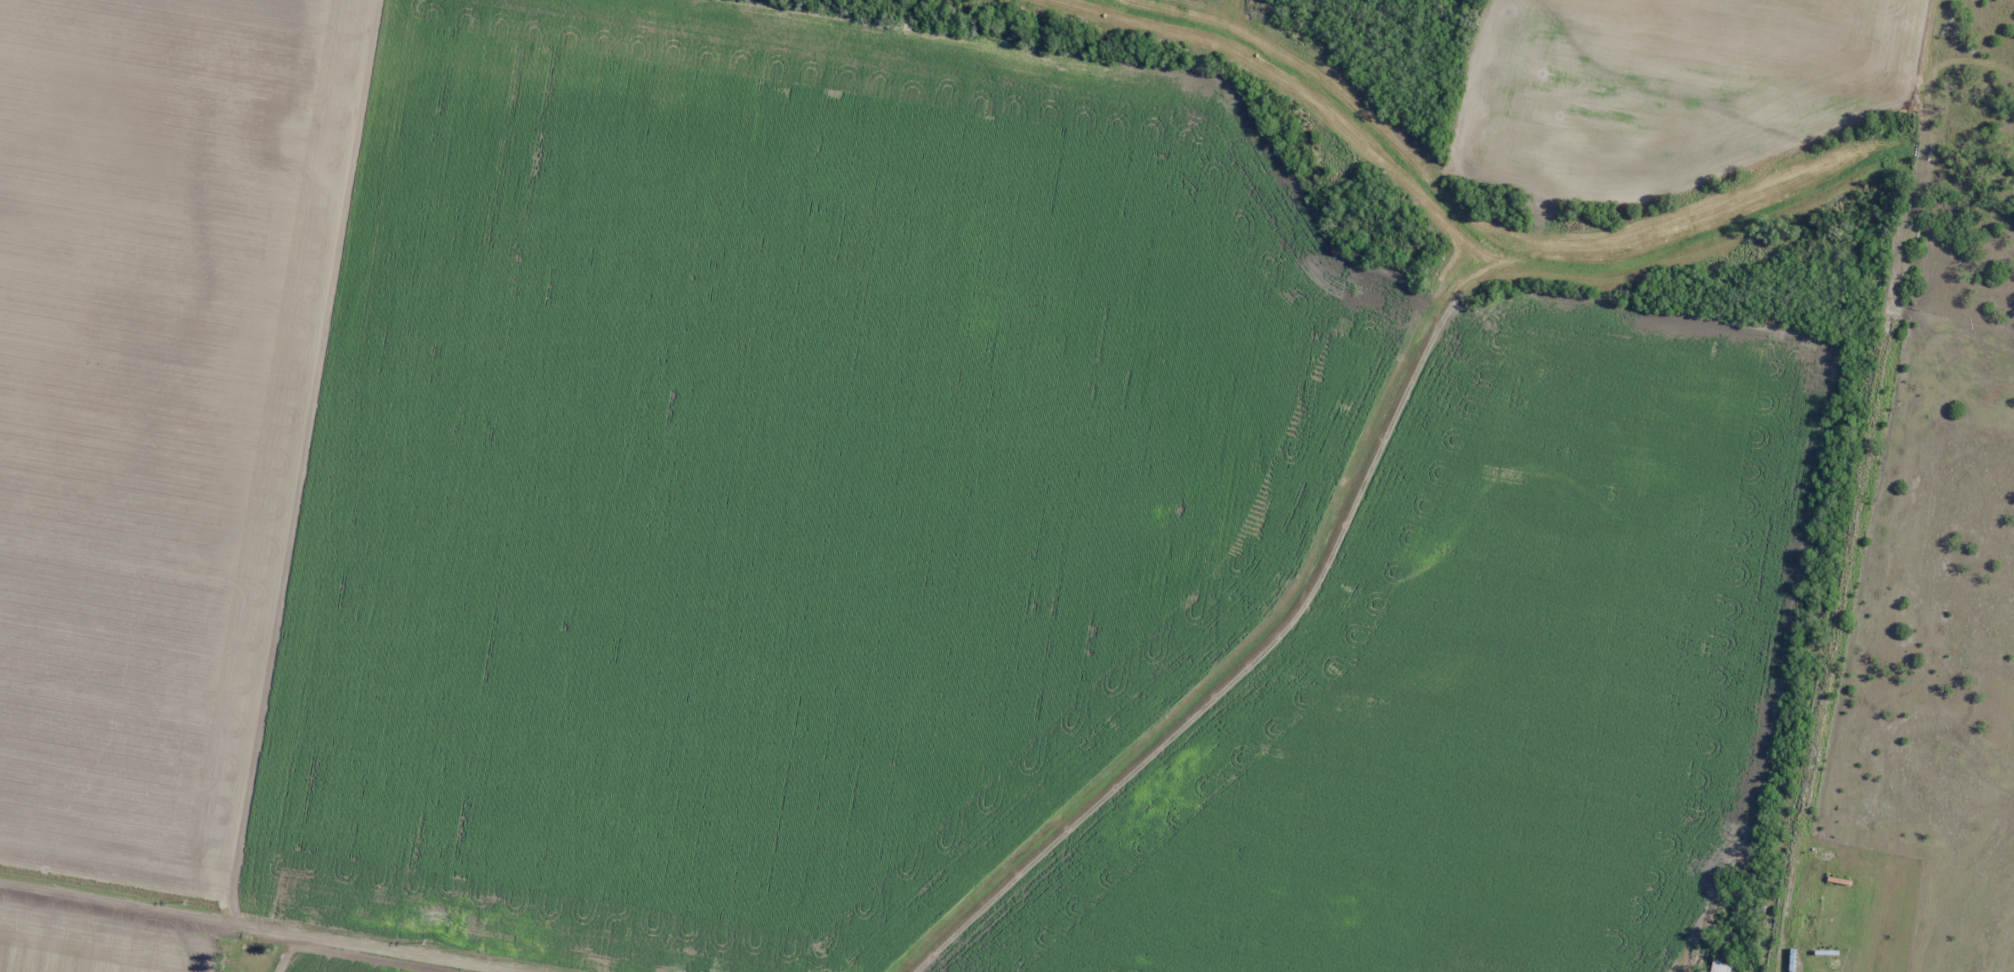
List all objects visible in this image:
road: (303, 457)
road: (274, 922)
building: (1718, 965)
building: (227, 971)

